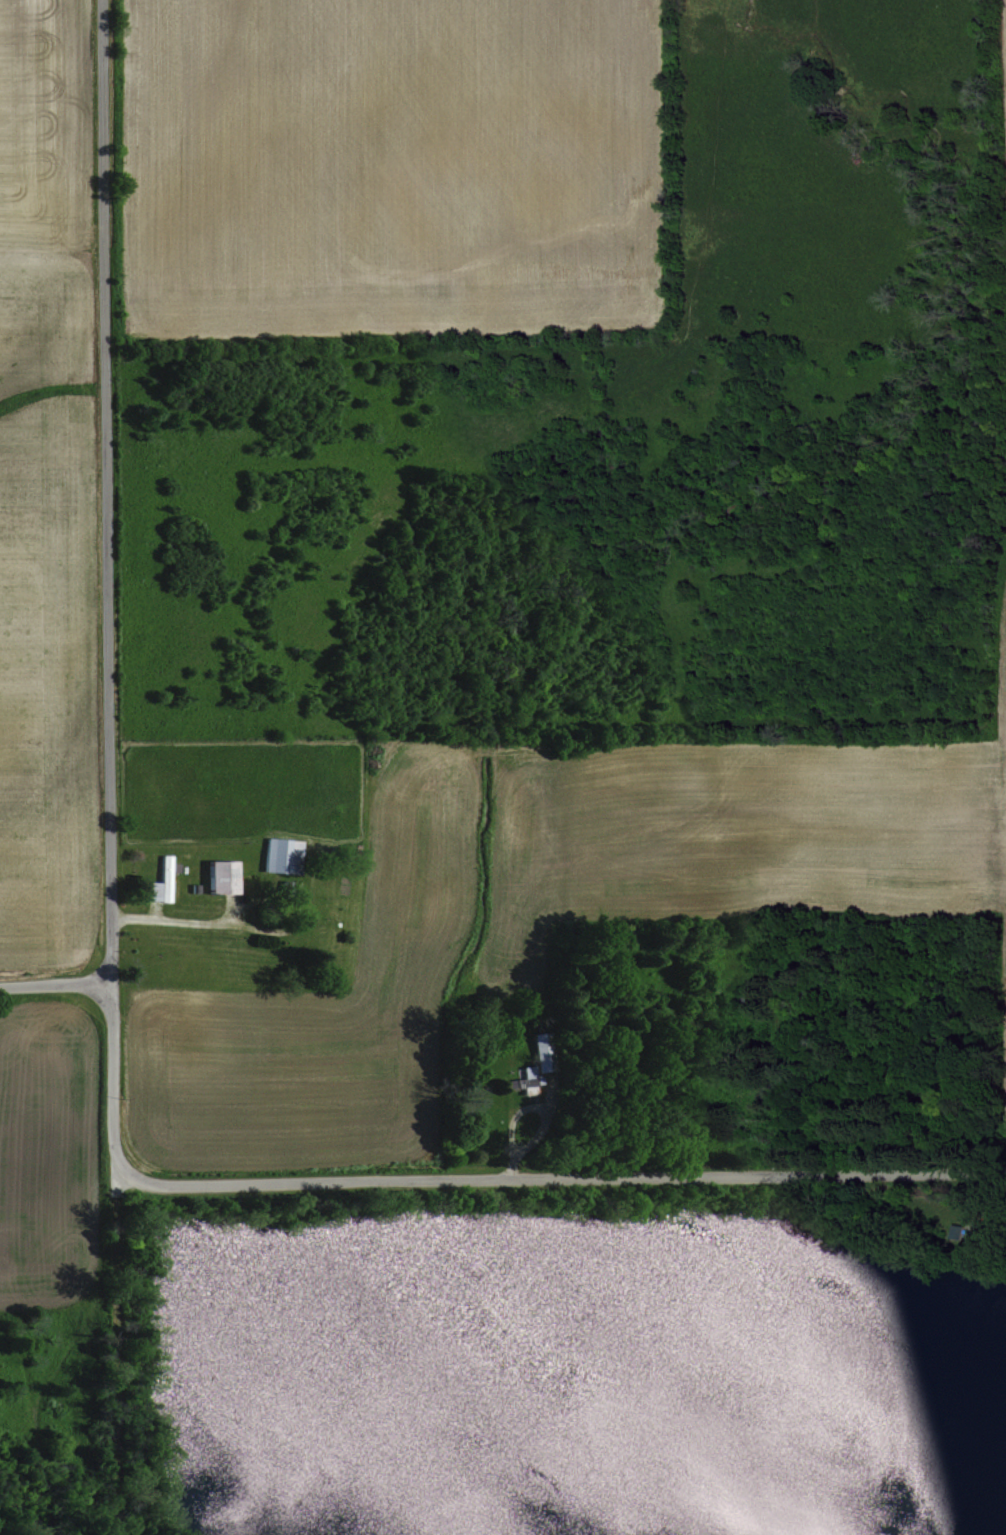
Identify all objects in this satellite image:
road: (105, 705)
building: (274, 855)
building: (217, 875)
building: (161, 879)
road: (202, 925)
road: (53, 990)
road: (791, 1095)
road: (532, 1137)
road: (554, 1179)
road: (153, 1377)
road: (144, 1469)

